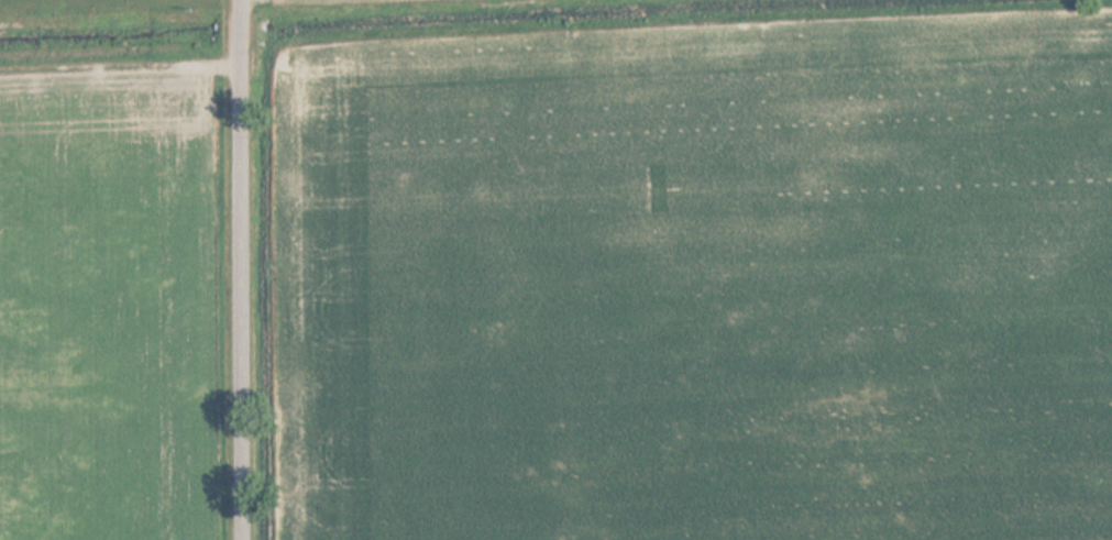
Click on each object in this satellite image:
road: (249, 269)

